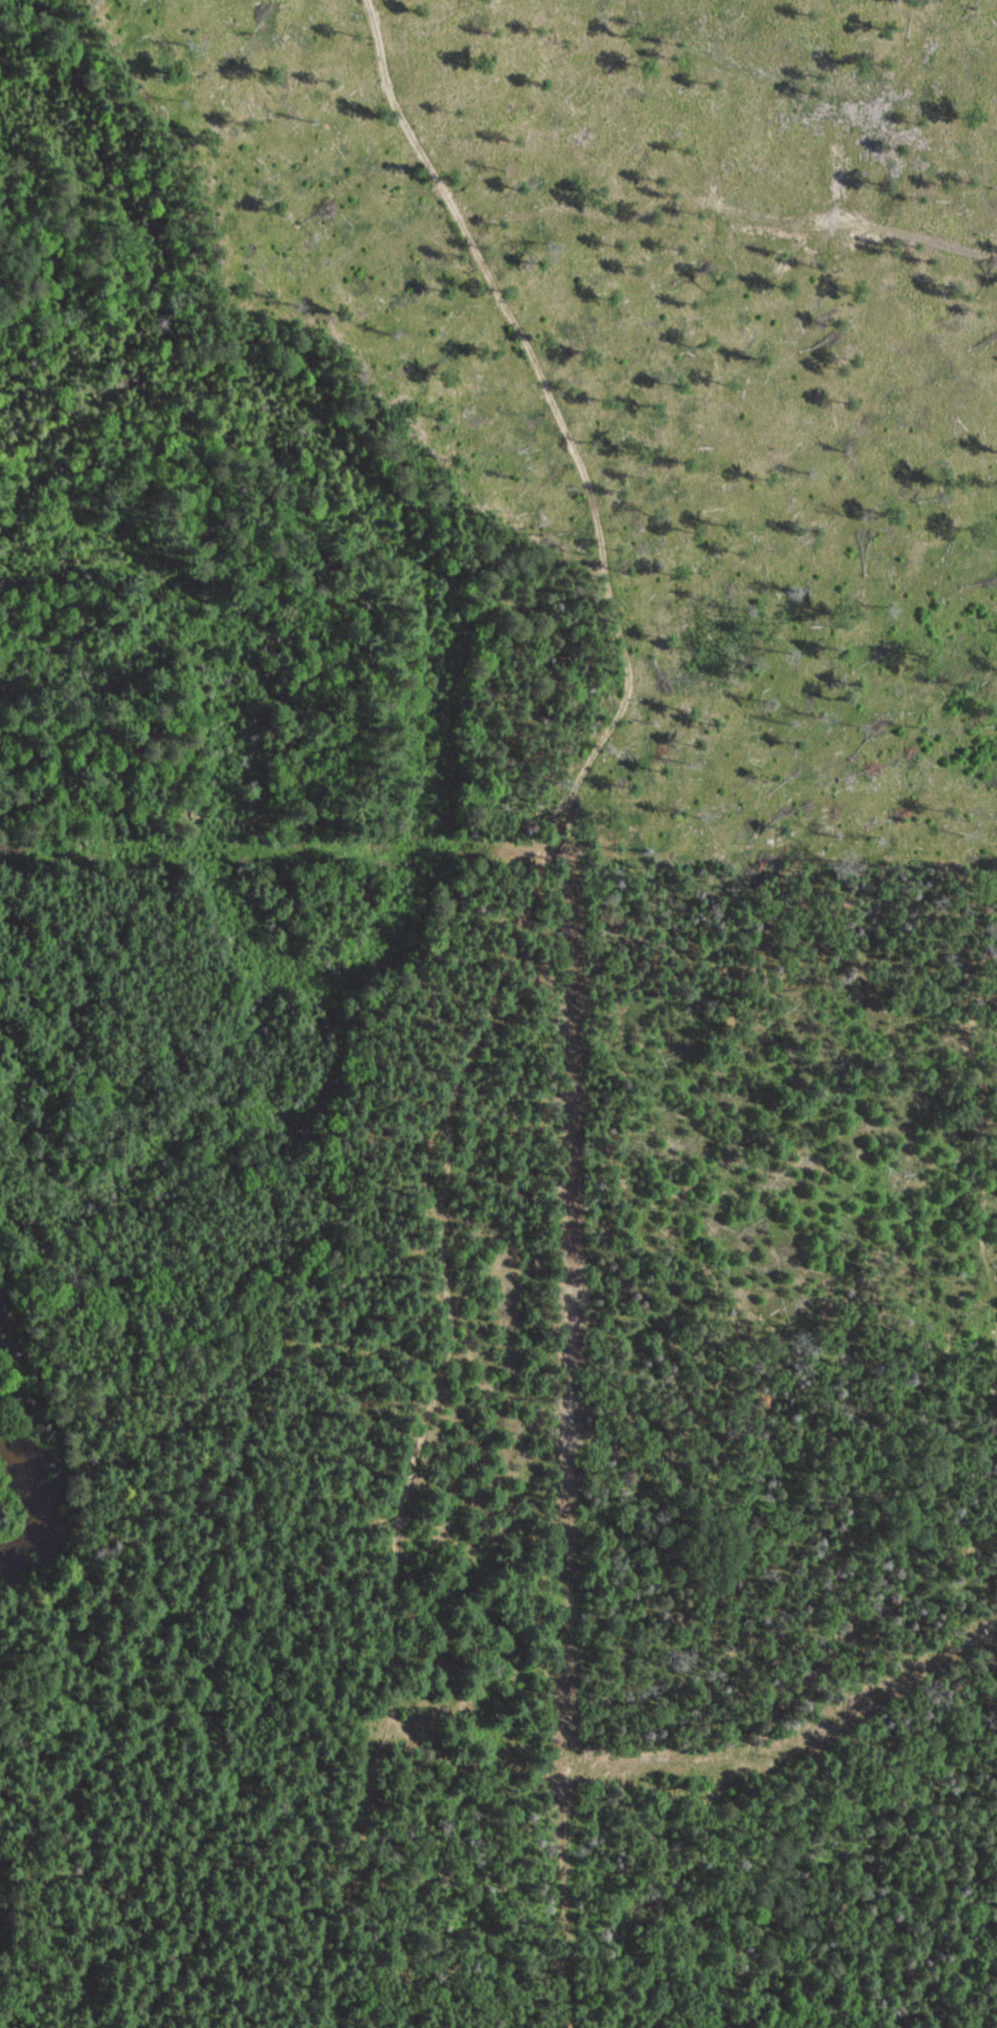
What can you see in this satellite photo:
road: (484, 1029)
river: (46, 1505)
building: (593, 2027)

